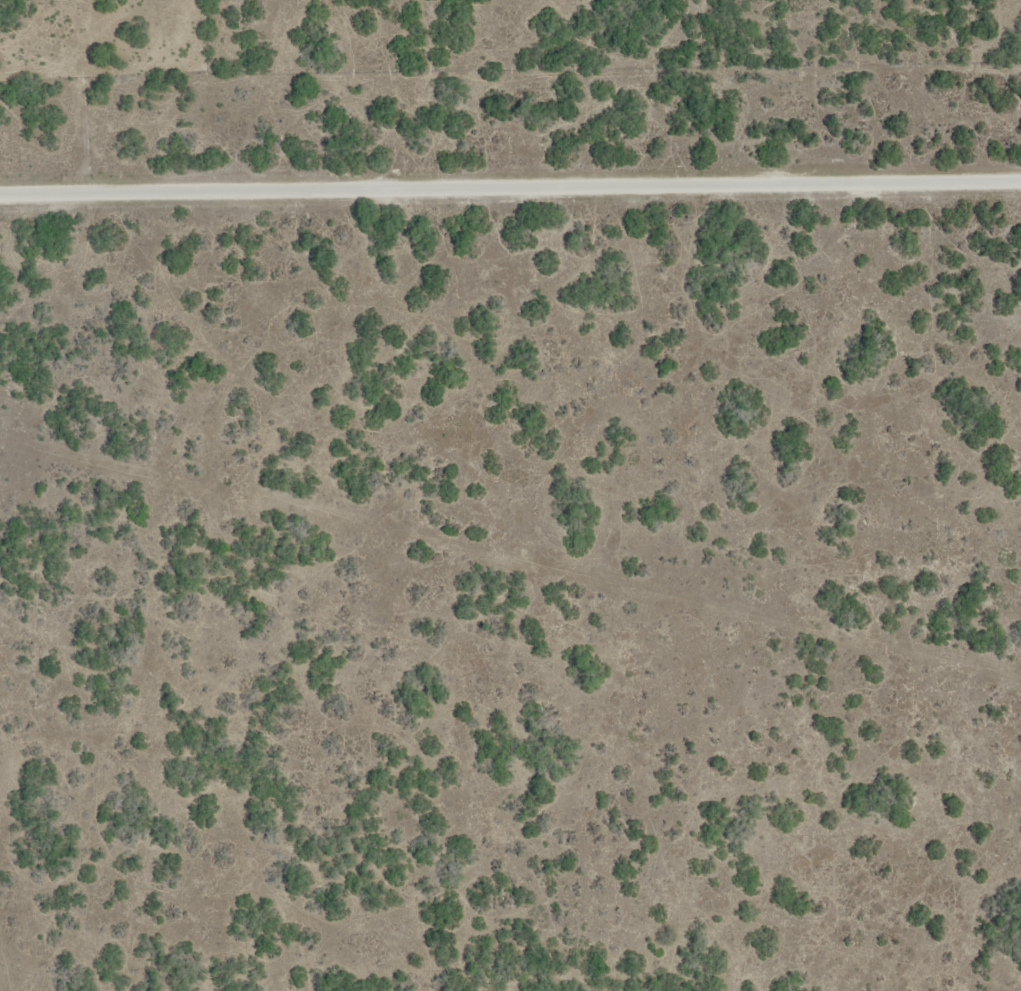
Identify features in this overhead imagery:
road: (510, 184)

